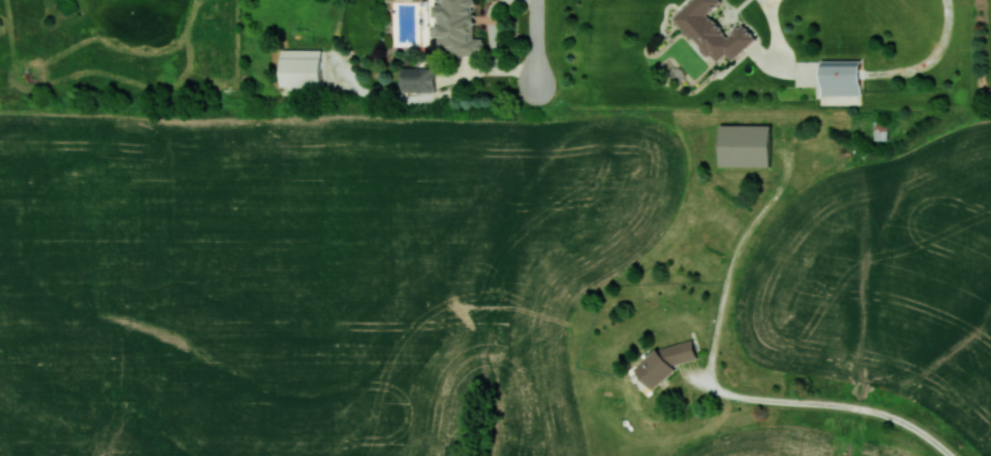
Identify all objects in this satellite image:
building: (458, 27)
building: (713, 30)
road: (776, 32)
road: (537, 43)
road: (933, 57)
building: (302, 67)
building: (841, 76)
building: (419, 79)
building: (746, 145)
crop: (309, 278)
crop: (885, 280)
building: (665, 361)
road: (827, 404)
crop: (479, 421)
crop: (479, 421)
crop: (764, 442)
crop: (871, 449)

